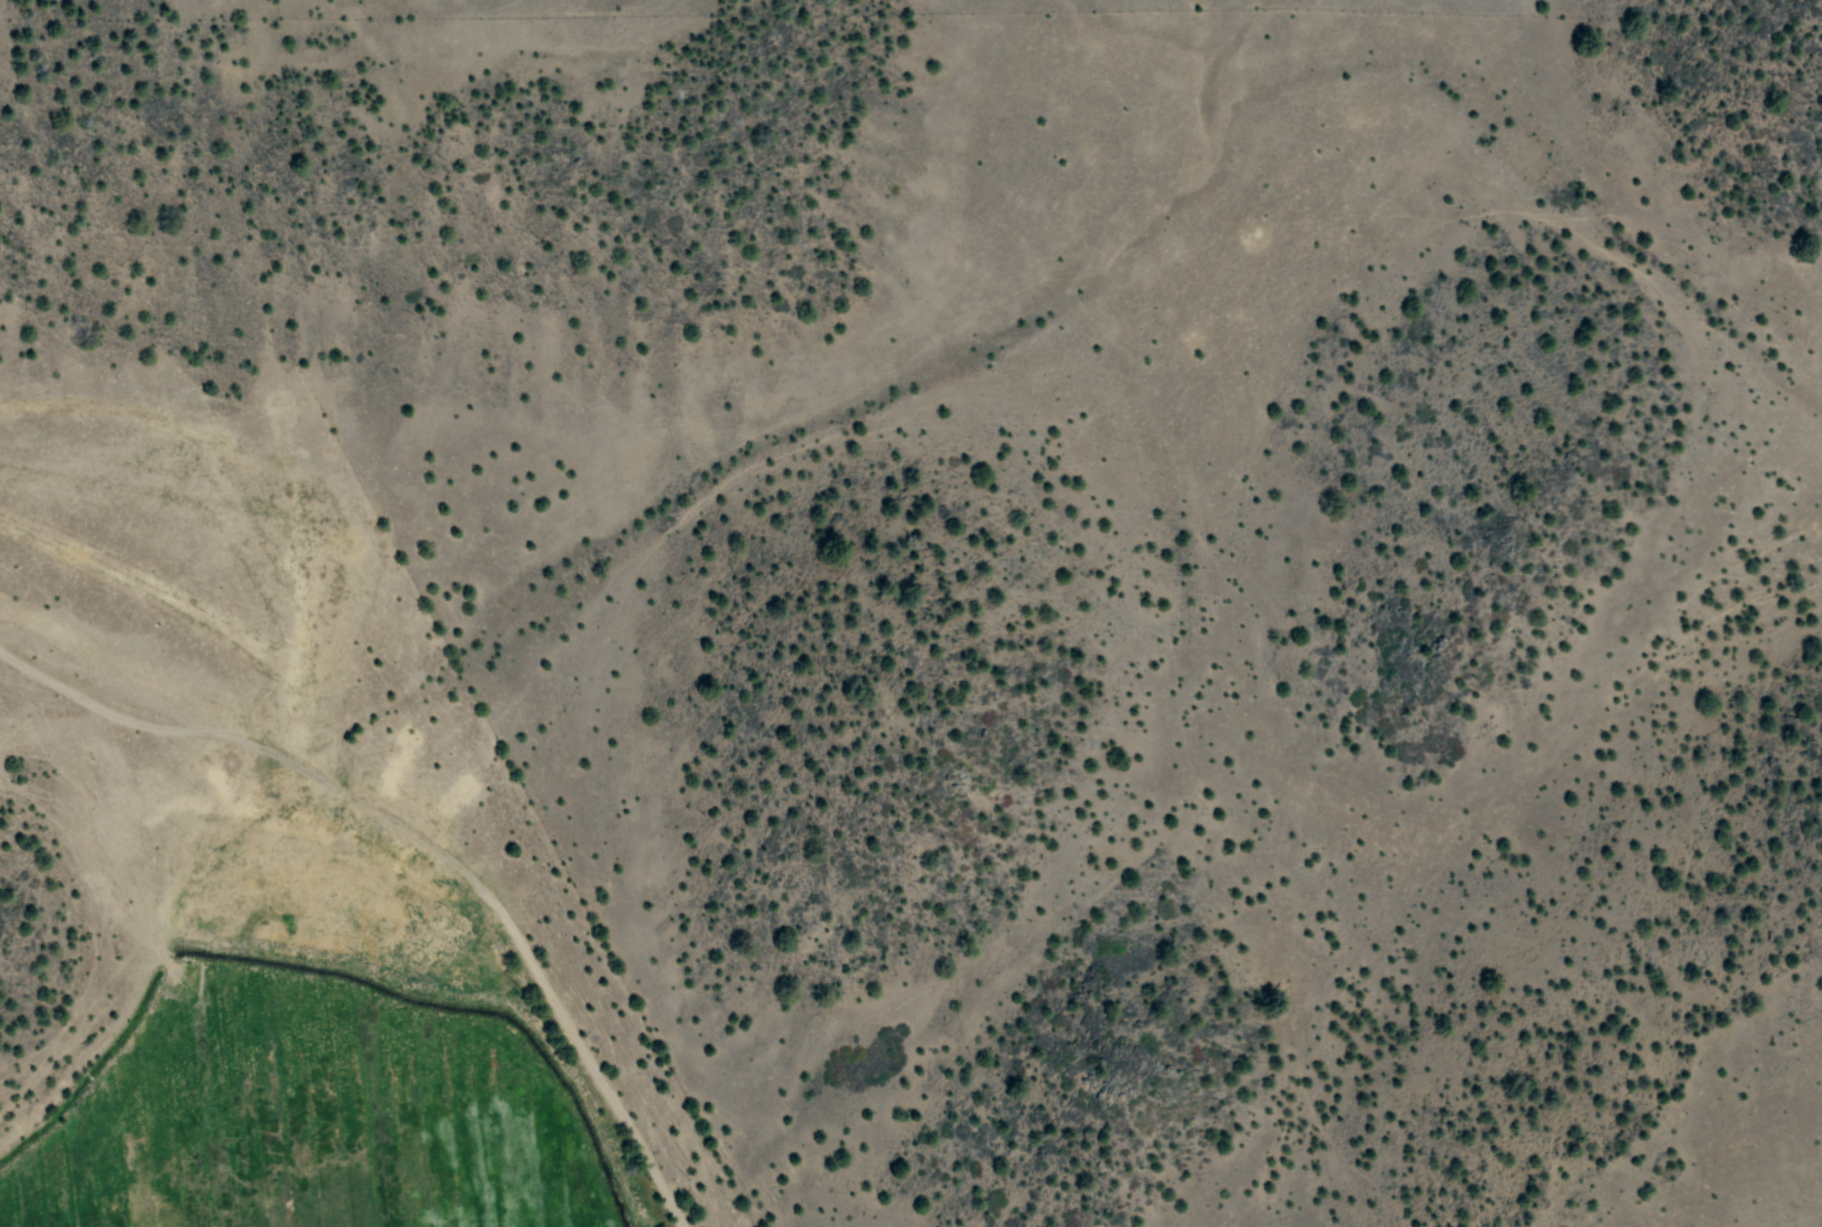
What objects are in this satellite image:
road: (423, 841)

